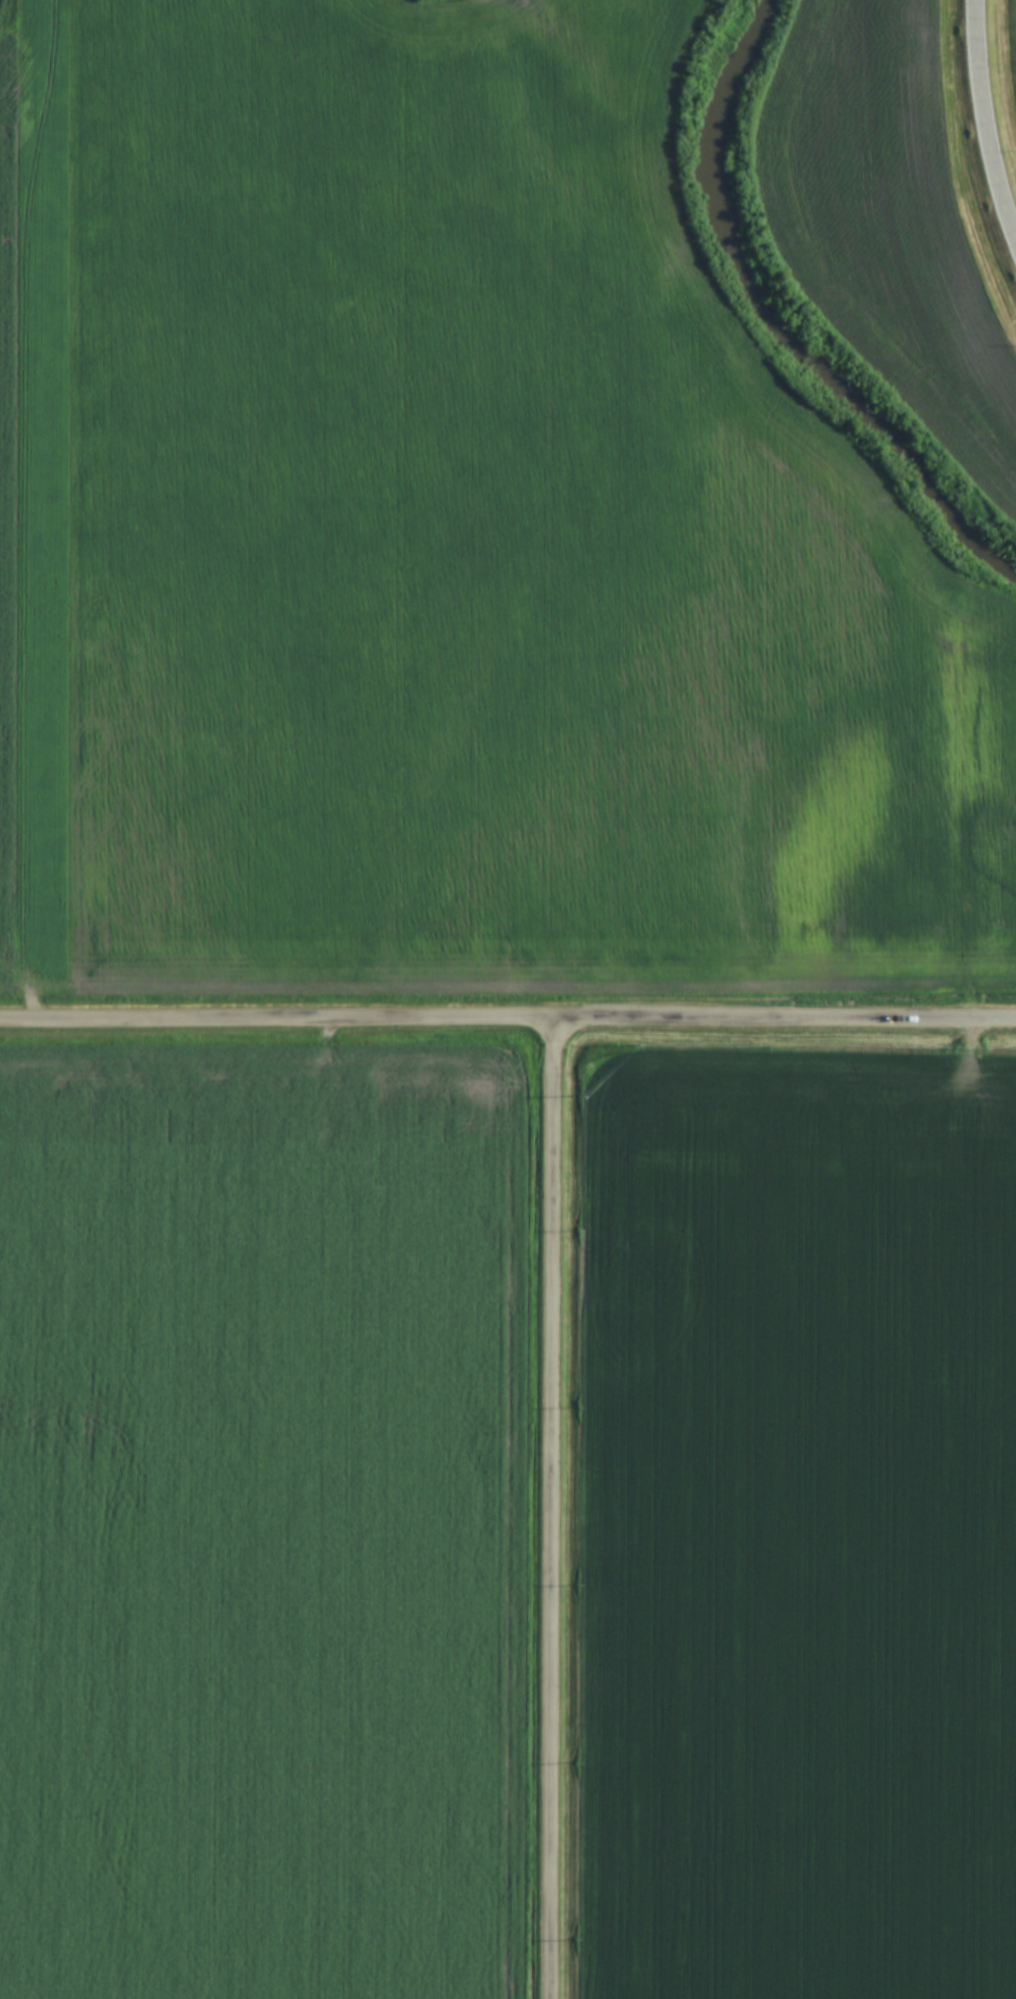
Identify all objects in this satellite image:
road: (987, 116)
road: (507, 1018)
road: (557, 1508)

